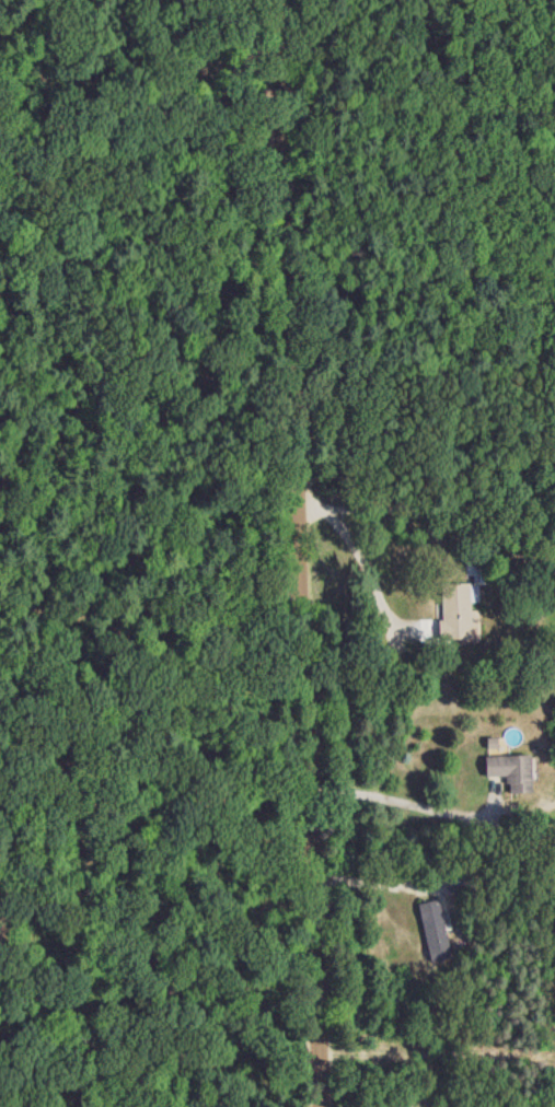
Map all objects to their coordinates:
road: (298, 553)
road: (366, 560)
building: (458, 614)
building: (509, 770)
road: (402, 803)
road: (375, 883)
building: (435, 930)

